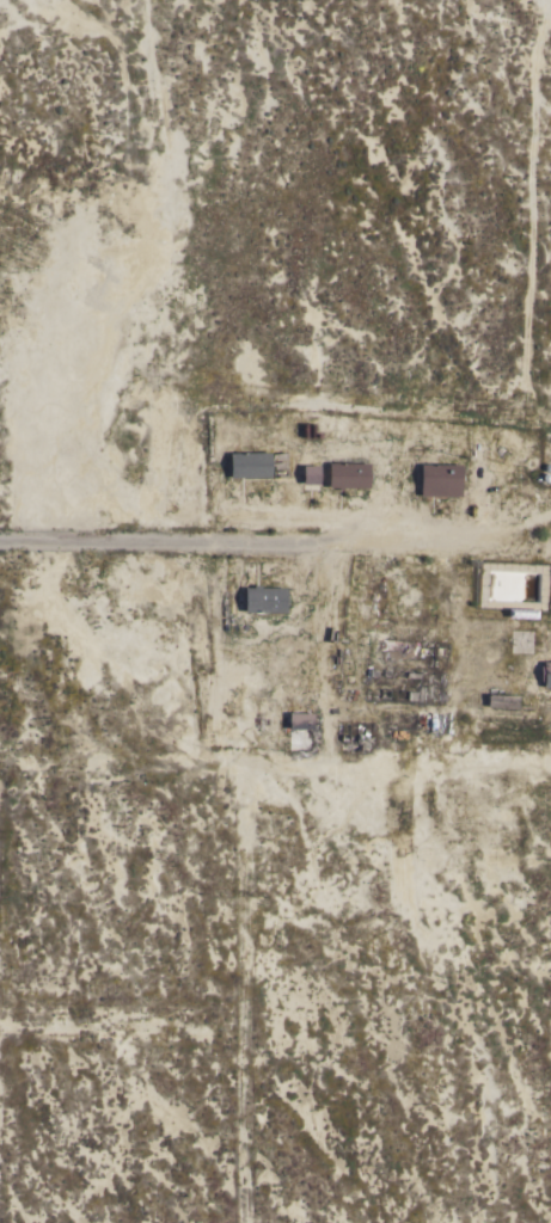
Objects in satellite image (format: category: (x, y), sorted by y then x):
road: (531, 216)
building: (249, 465)
building: (310, 474)
building: (348, 475)
building: (440, 479)
road: (415, 541)
road: (139, 543)
building: (264, 600)
building: (521, 613)
building: (394, 646)
building: (545, 674)
building: (501, 701)
building: (300, 720)

